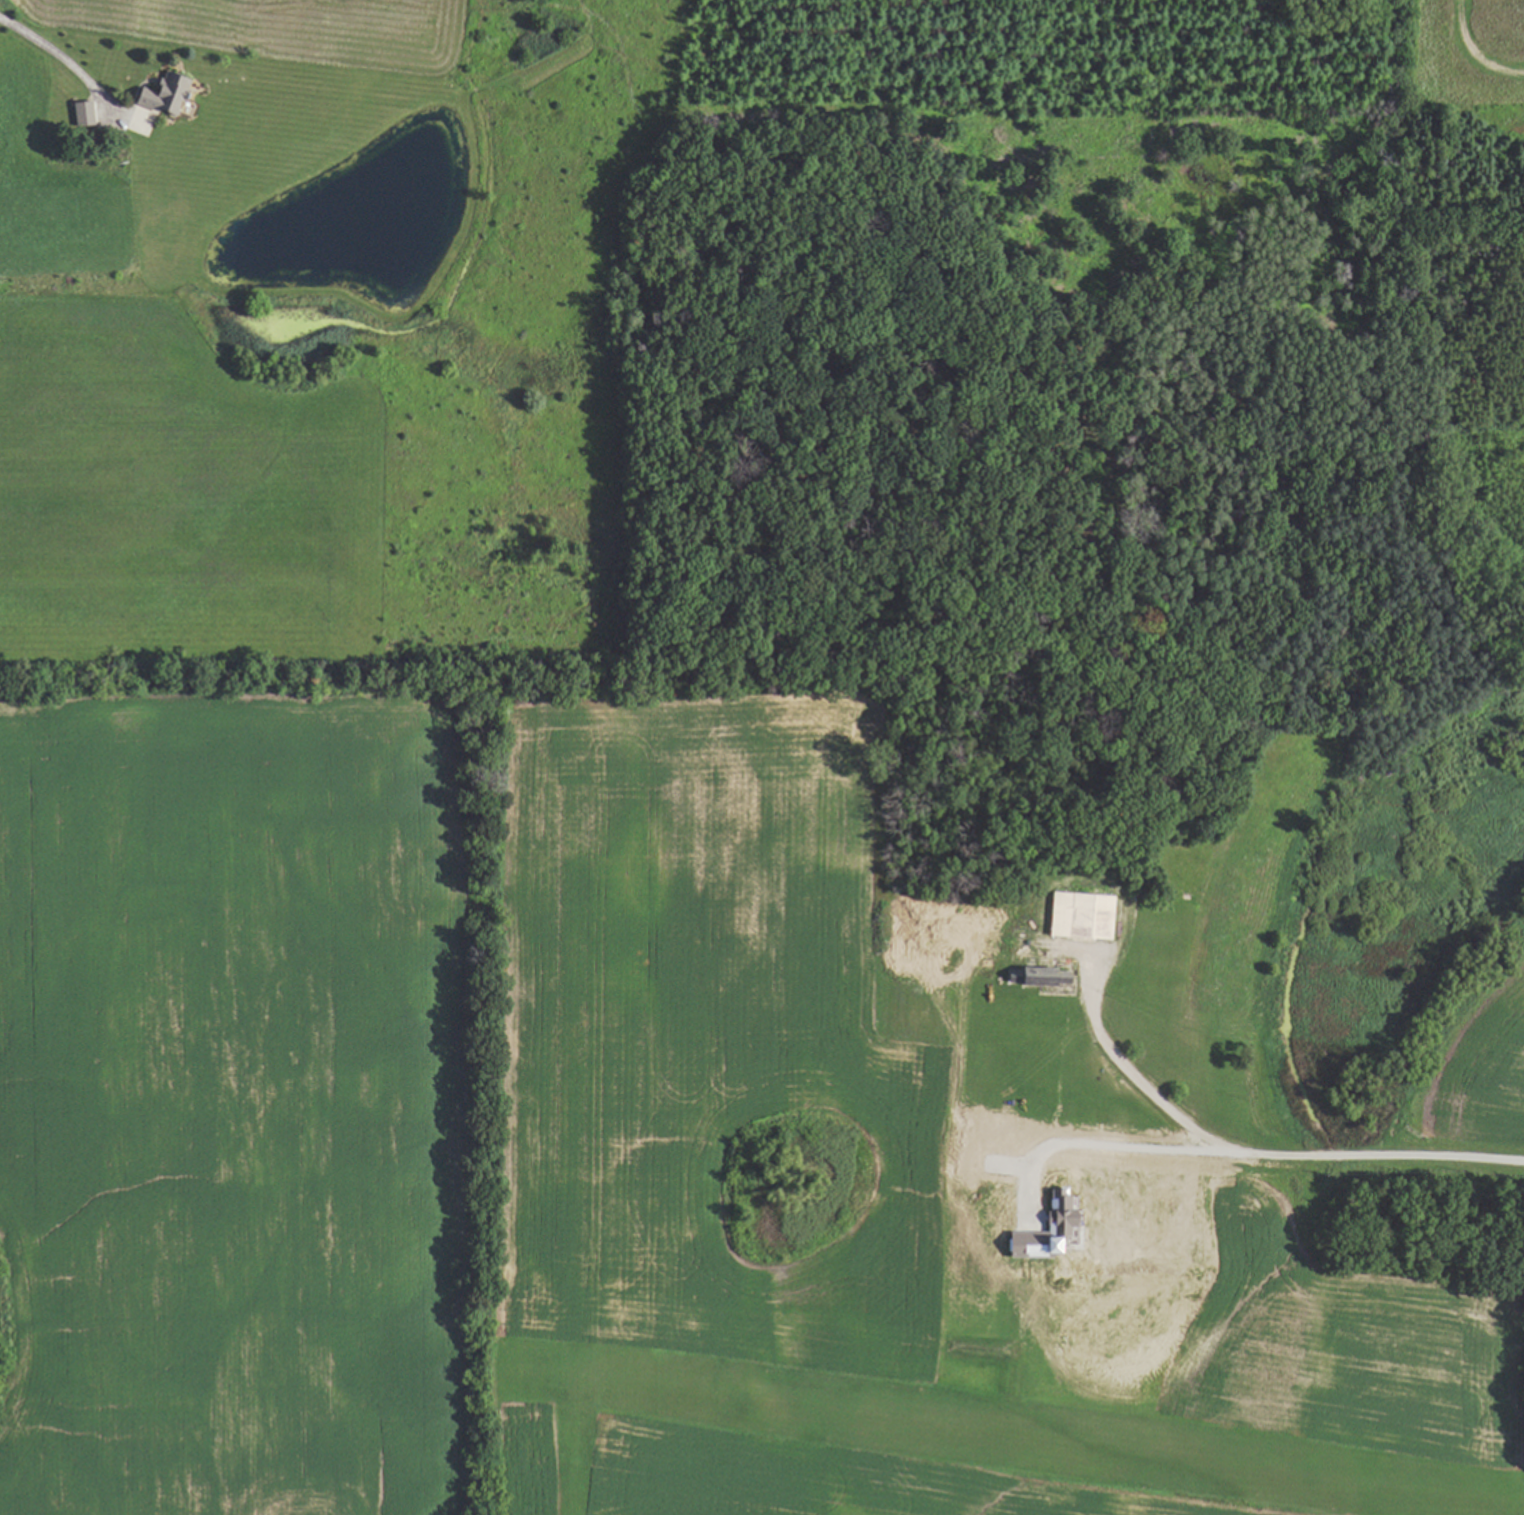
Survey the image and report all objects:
road: (57, 54)
building: (158, 95)
building: (78, 113)
building: (1079, 915)
building: (1038, 976)
road: (1119, 1055)
road: (1286, 1147)
building: (1053, 1224)
airport runway: (1013, 1432)

